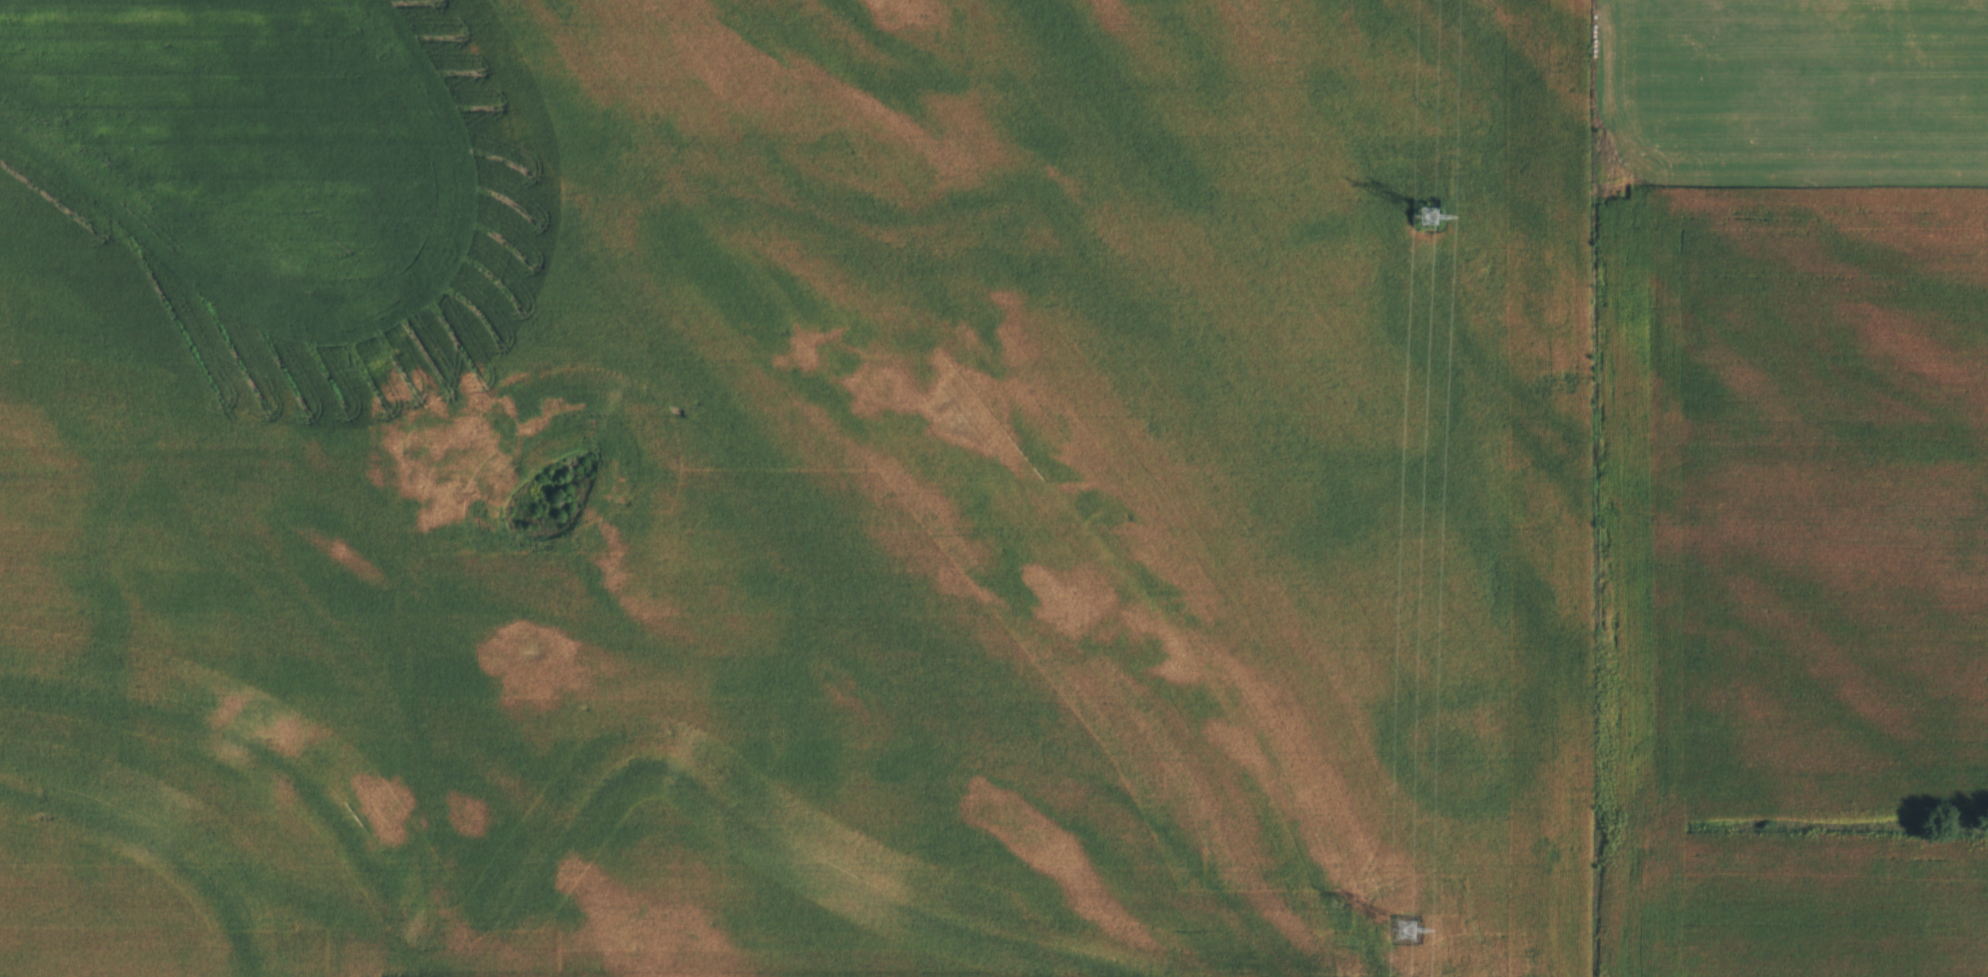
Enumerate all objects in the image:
power tower: (1432, 216)
crop: (994, 488)
power tower: (1412, 928)

